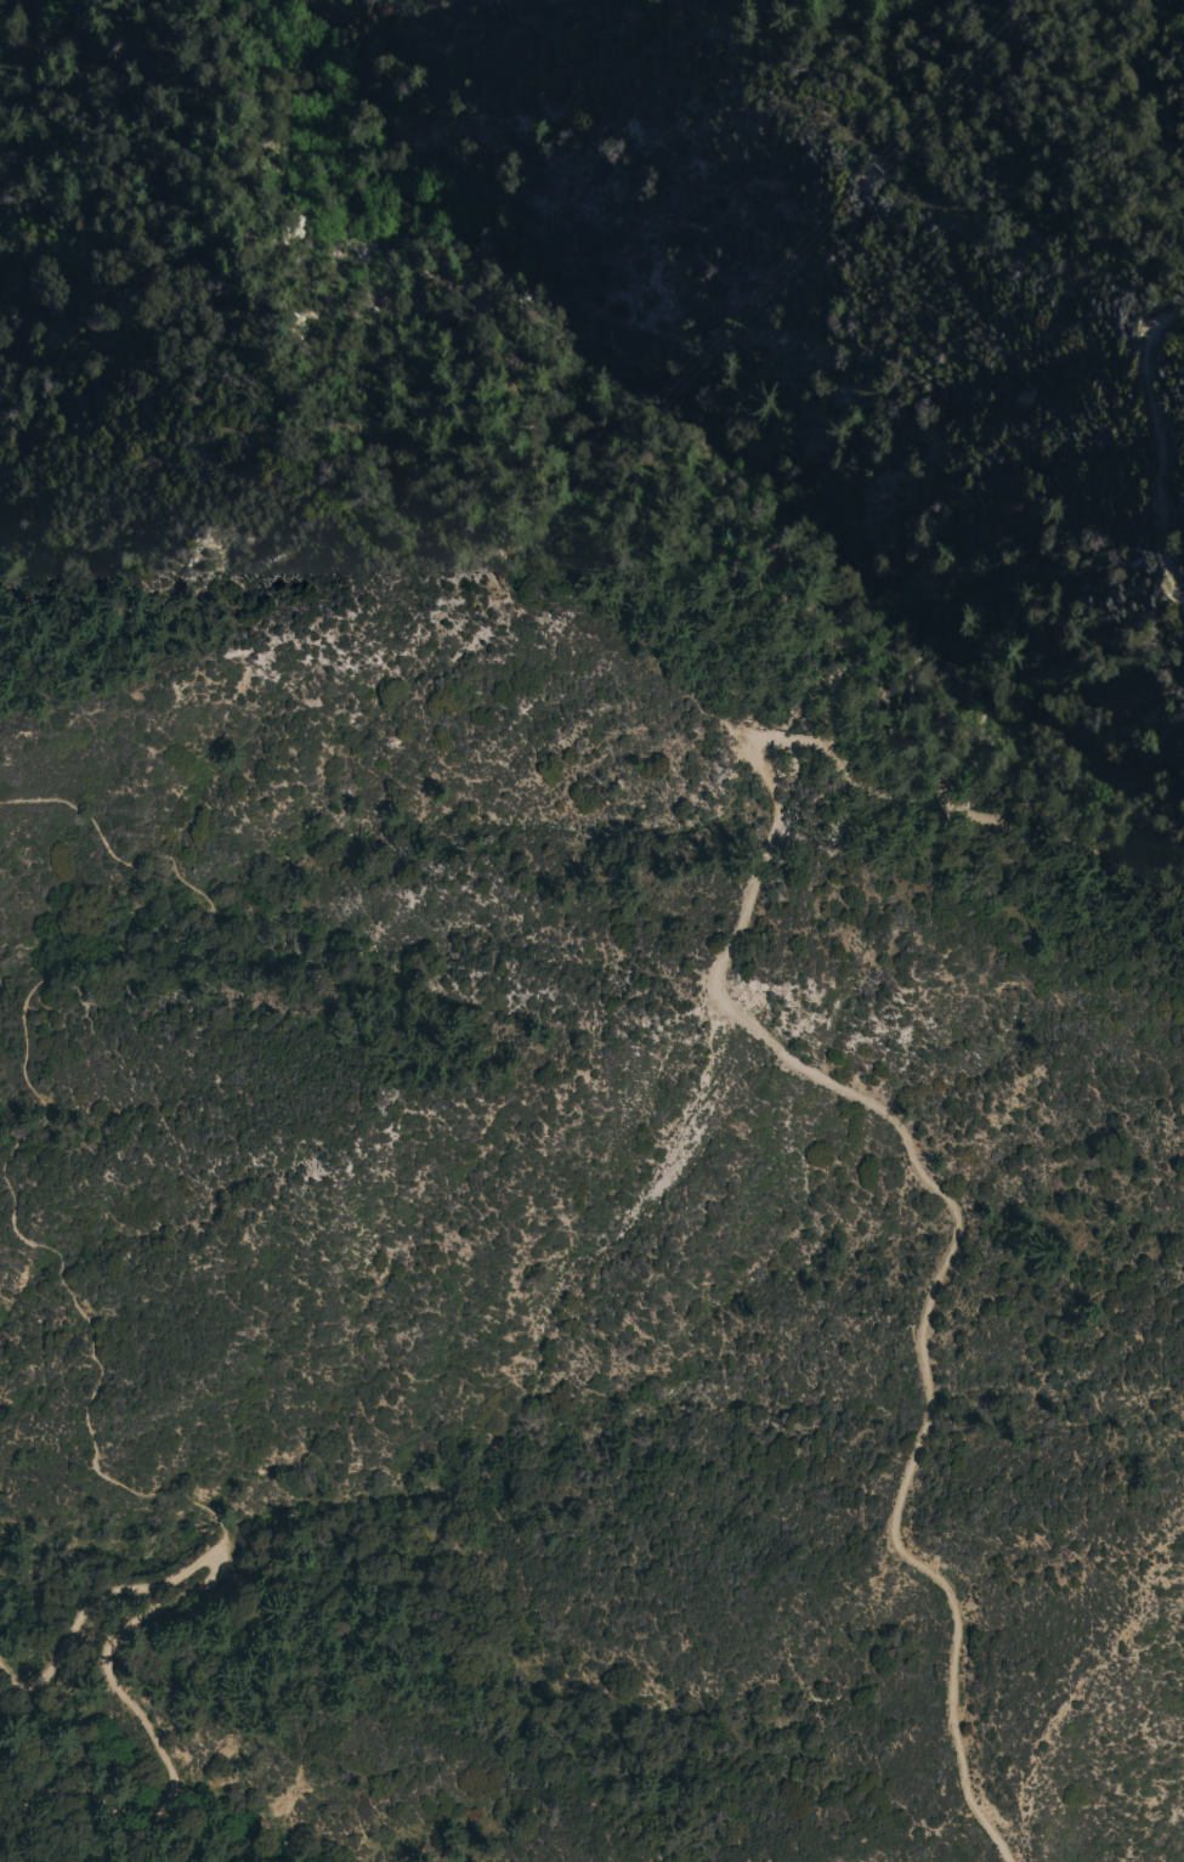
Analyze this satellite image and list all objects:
road: (255, 78)
road: (1160, 448)
road: (825, 1075)
road: (43, 1102)
road: (136, 1646)

